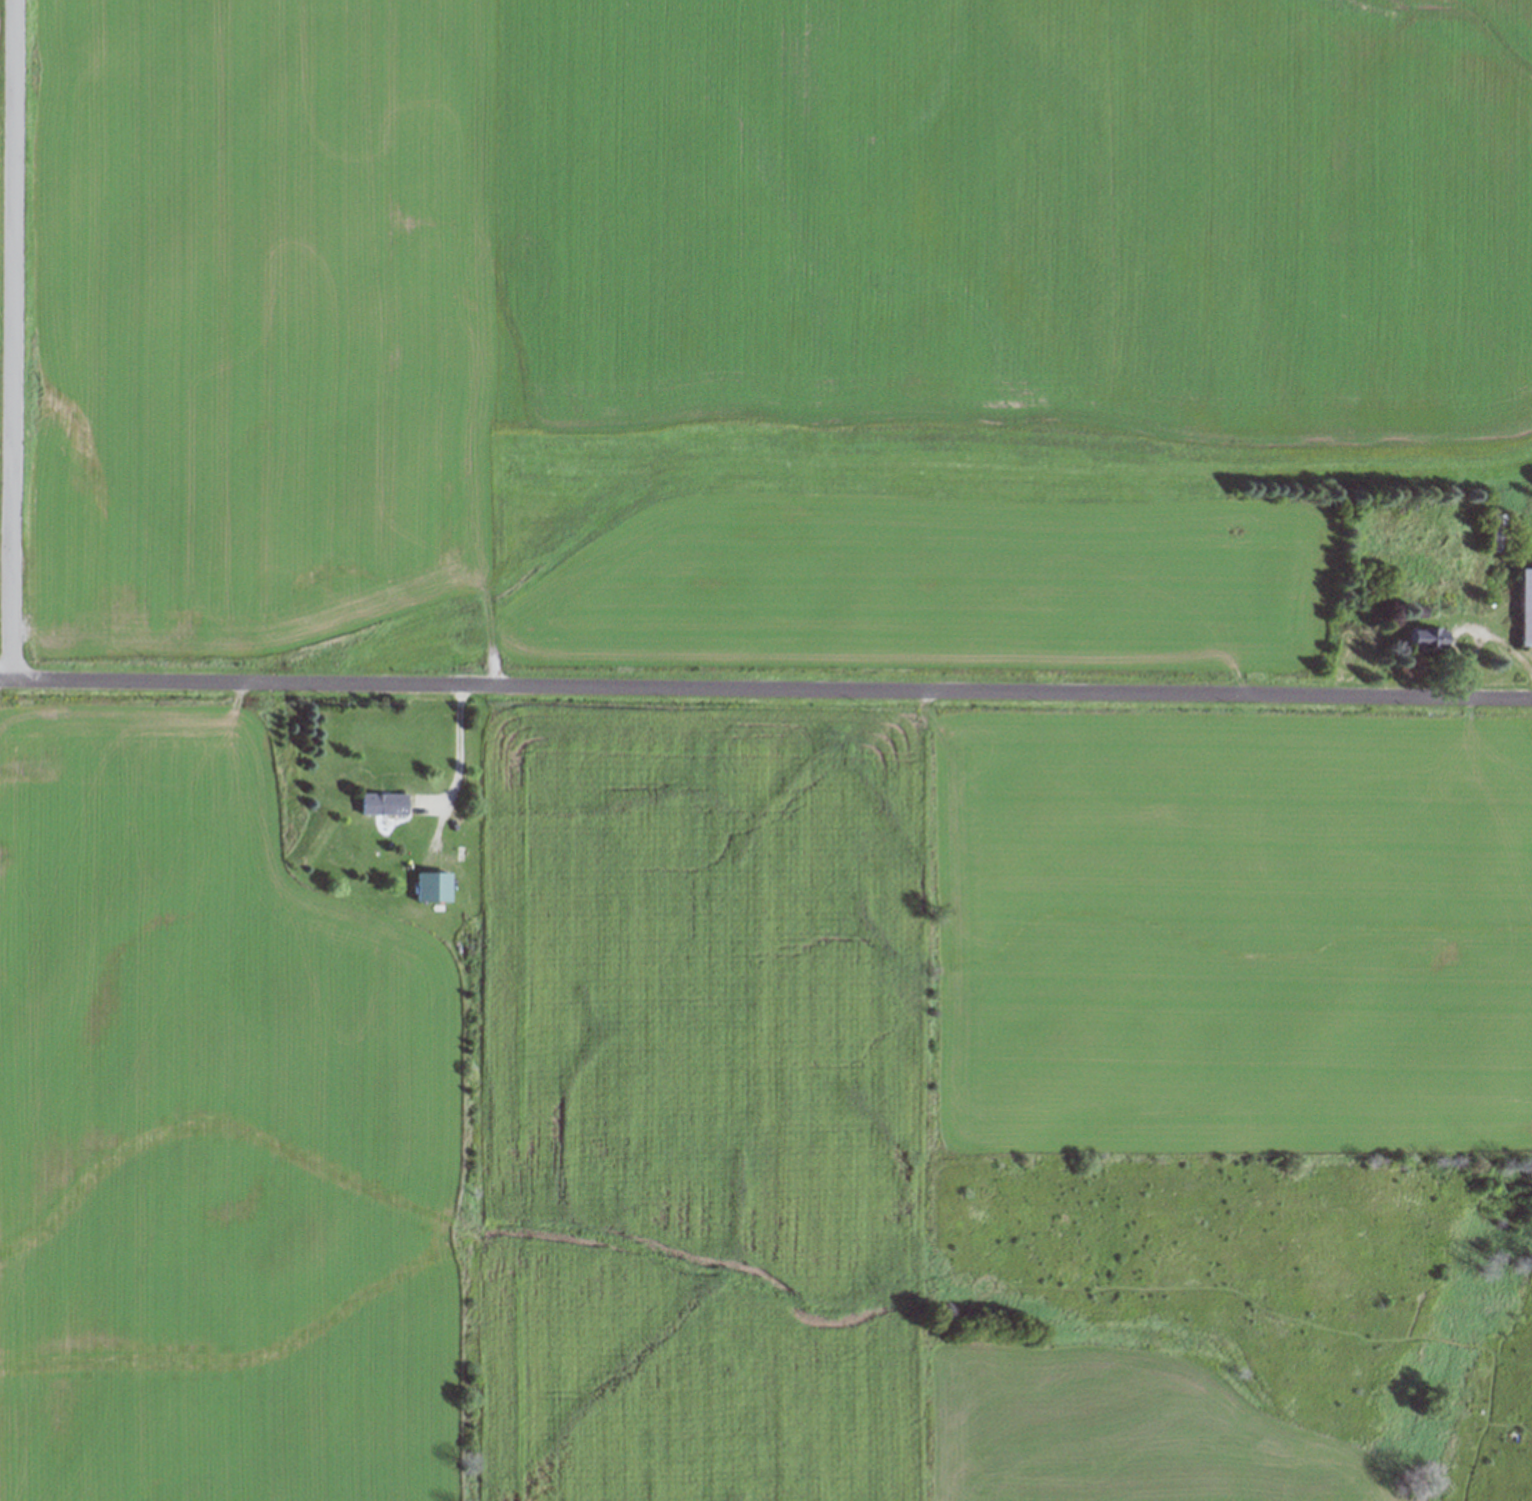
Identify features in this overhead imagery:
road: (11, 338)
building: (1496, 533)
building: (1525, 607)
building: (1422, 639)
road: (765, 690)
building: (381, 805)
building: (430, 888)

